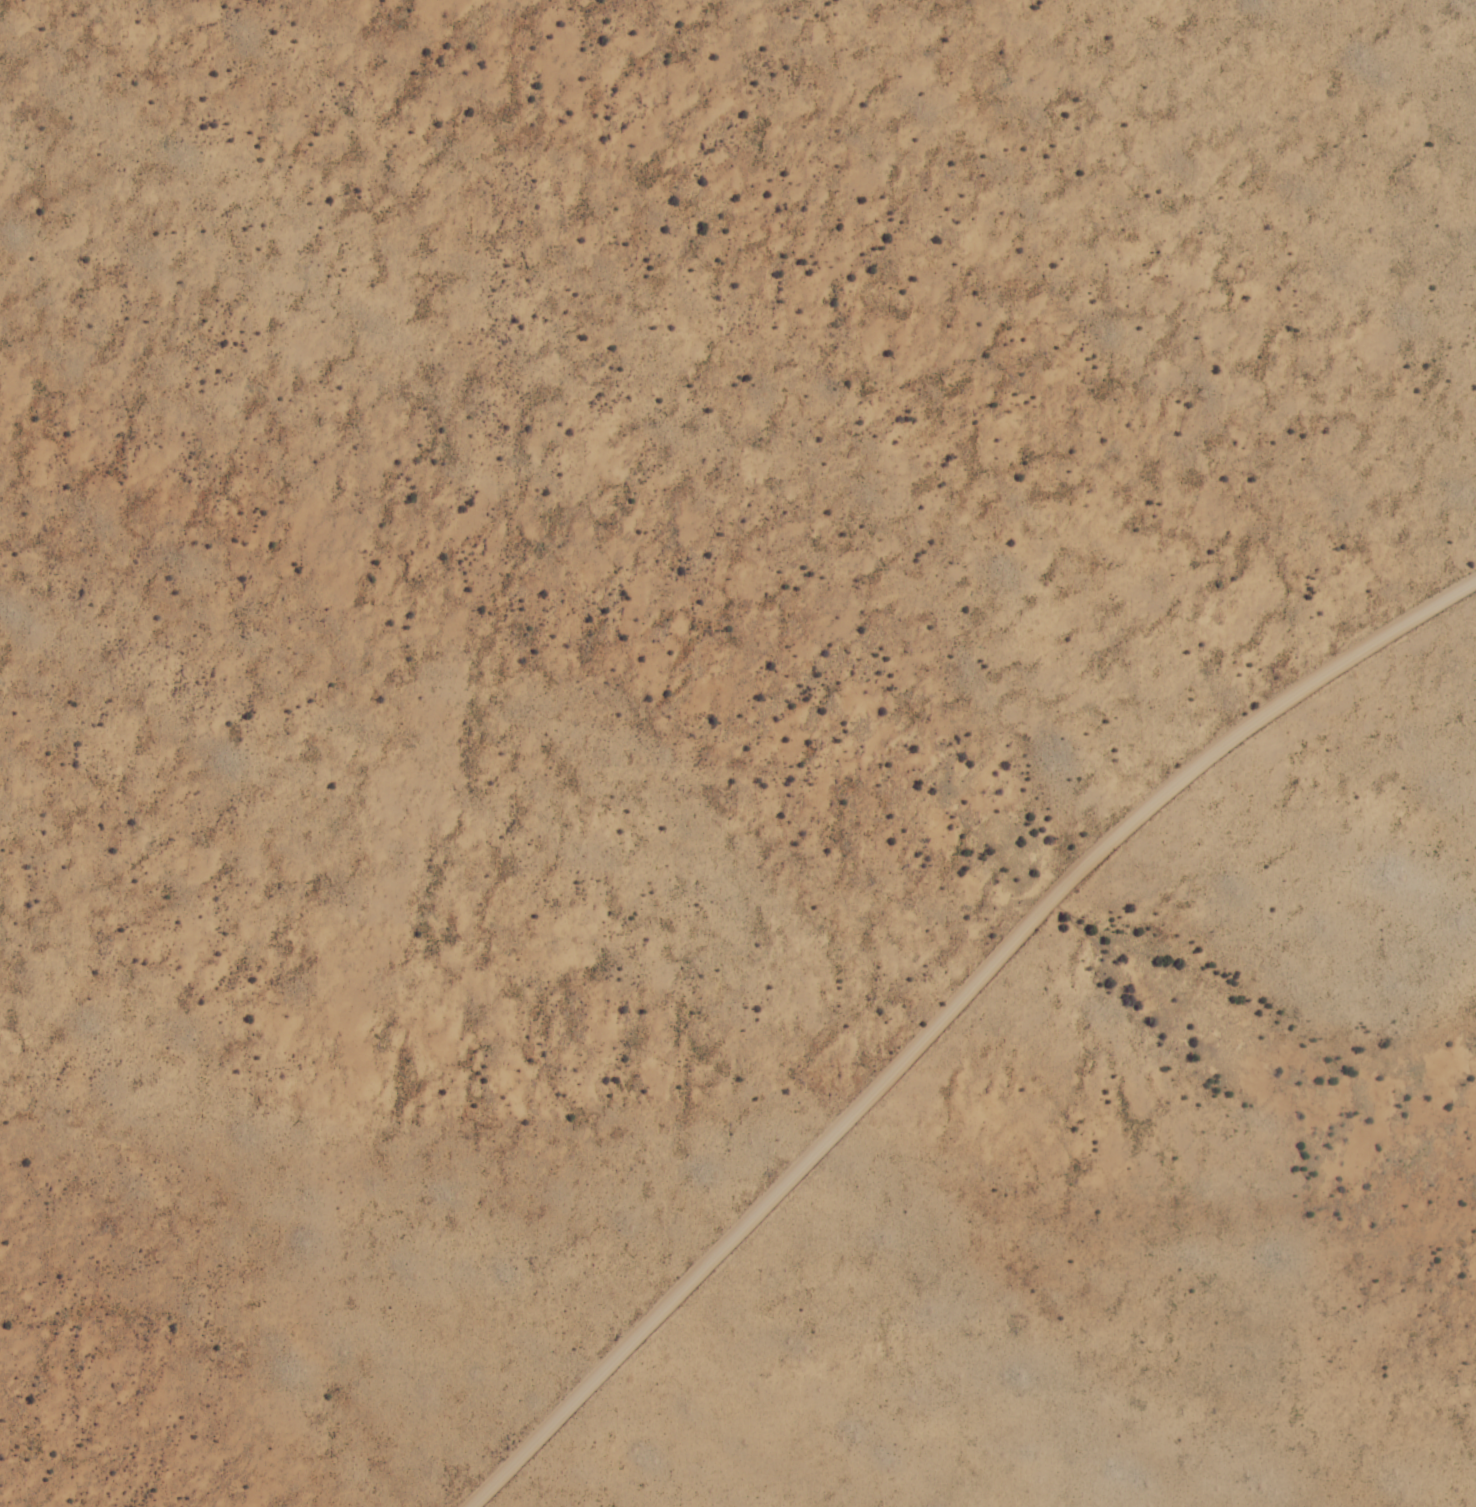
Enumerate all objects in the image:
road: (945, 1011)

